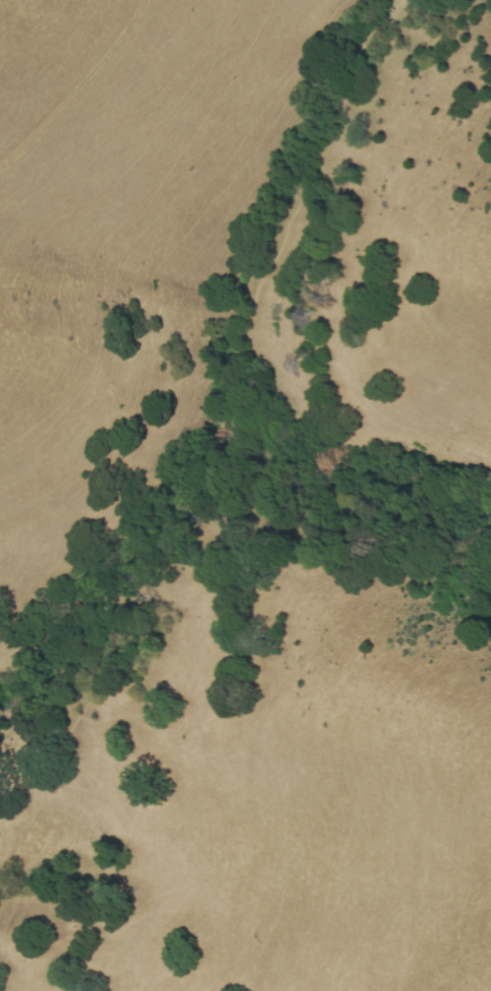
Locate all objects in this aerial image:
road: (81, 89)

